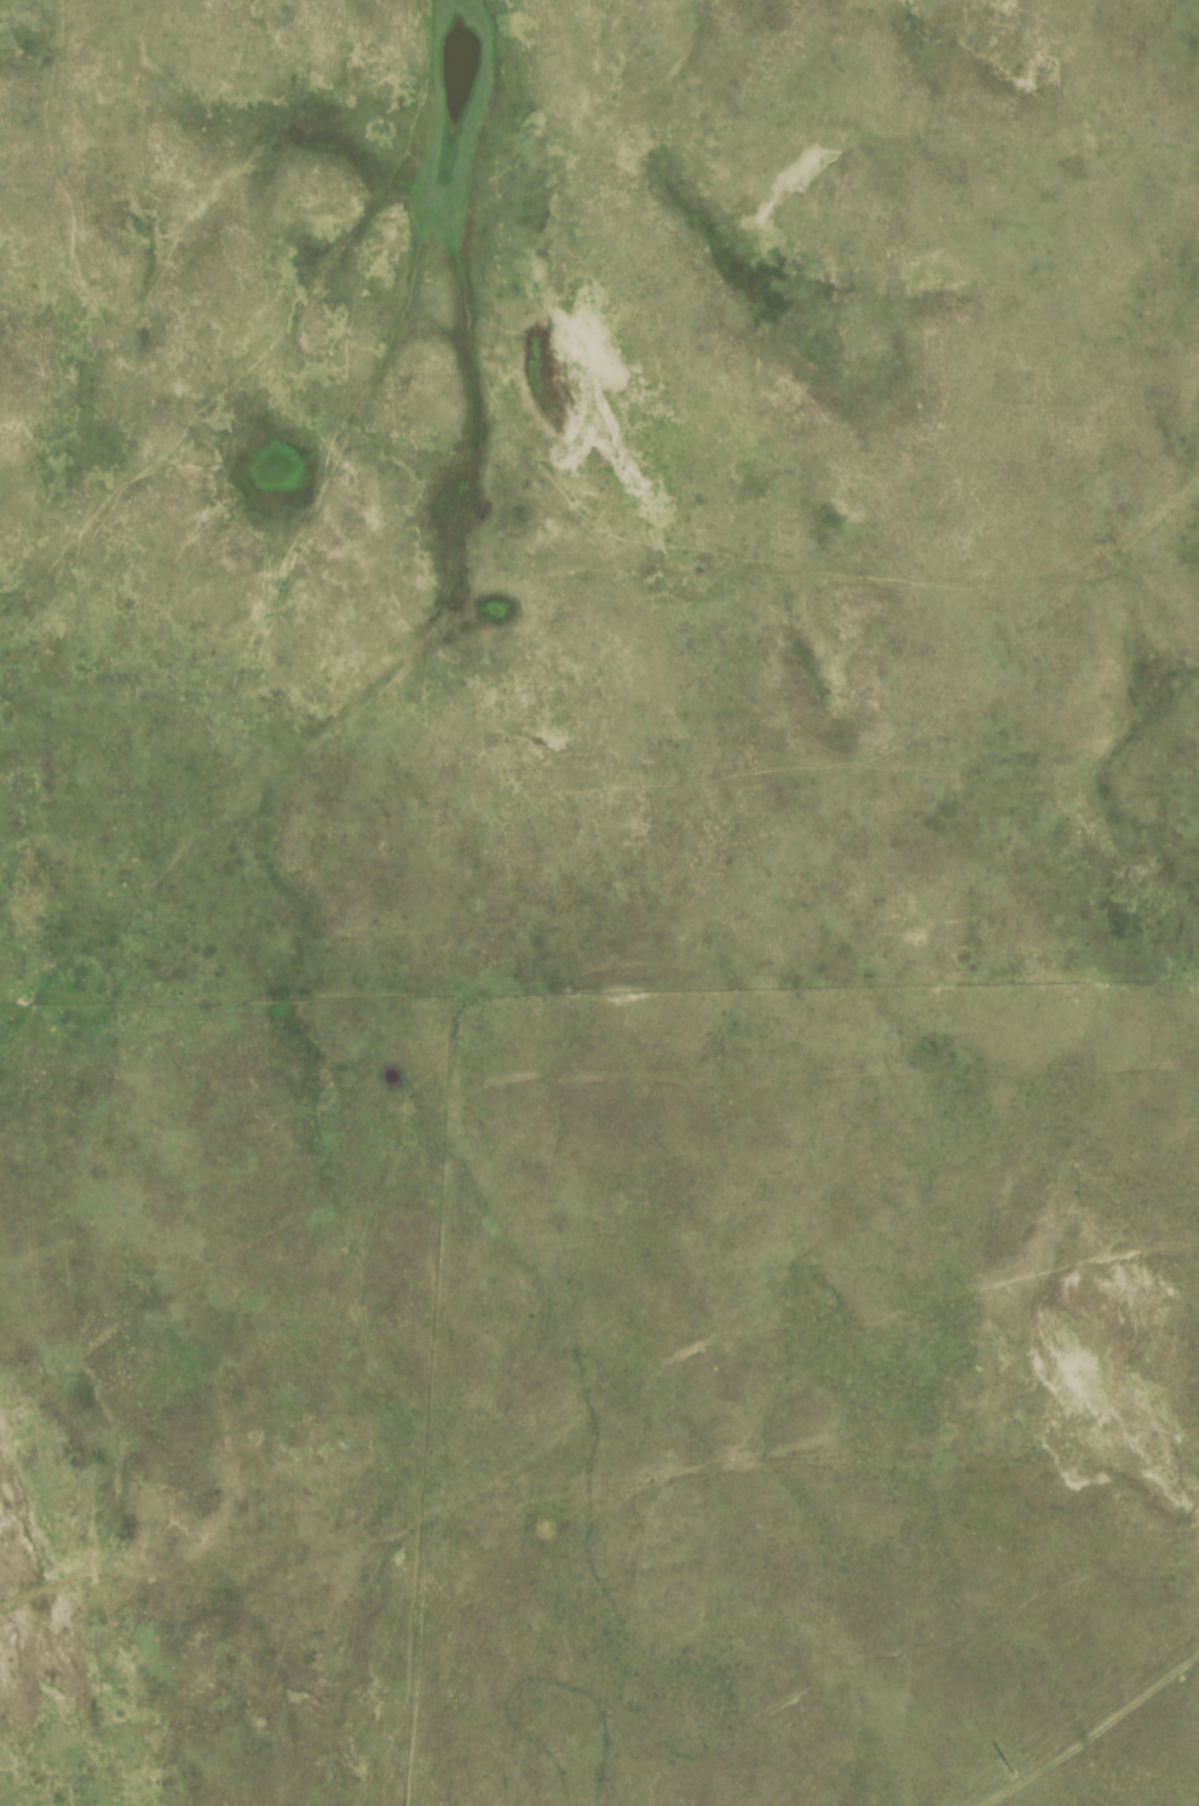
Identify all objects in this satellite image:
power tower: (1010, 1770)

